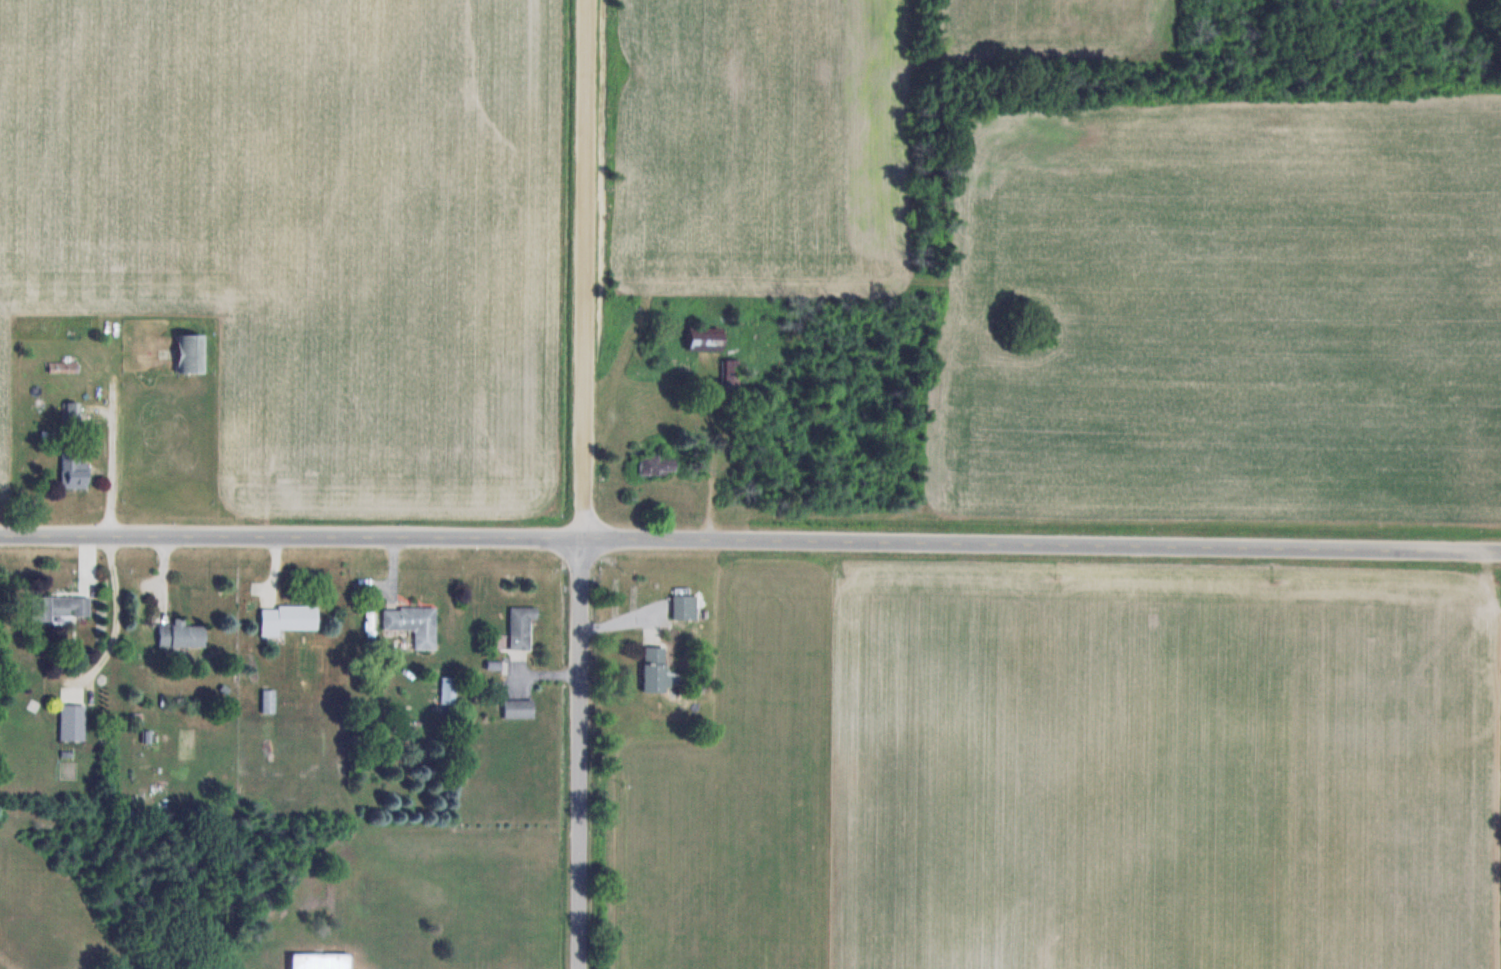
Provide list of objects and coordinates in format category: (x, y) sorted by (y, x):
road: (583, 269)
building: (707, 339)
building: (191, 353)
building: (64, 367)
building: (72, 411)
building: (74, 471)
road: (290, 537)
road: (1041, 546)
building: (686, 606)
building: (60, 607)
building: (288, 619)
building: (414, 624)
building: (522, 627)
building: (182, 634)
building: (656, 669)
building: (449, 691)
building: (269, 700)
building: (519, 709)
building: (72, 722)
road: (581, 754)
building: (300, 954)

